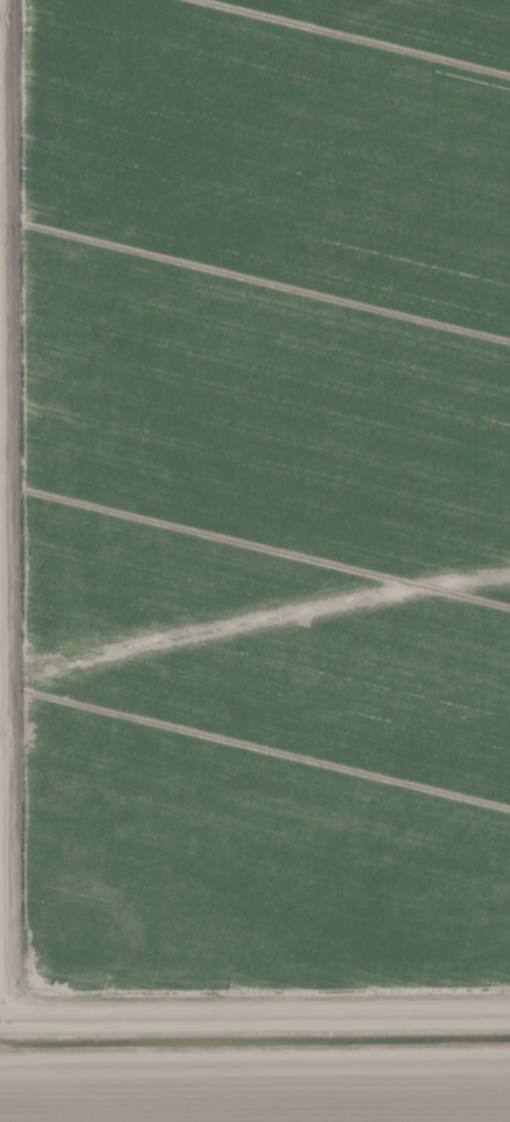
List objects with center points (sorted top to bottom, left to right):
crop: (254, 560)

